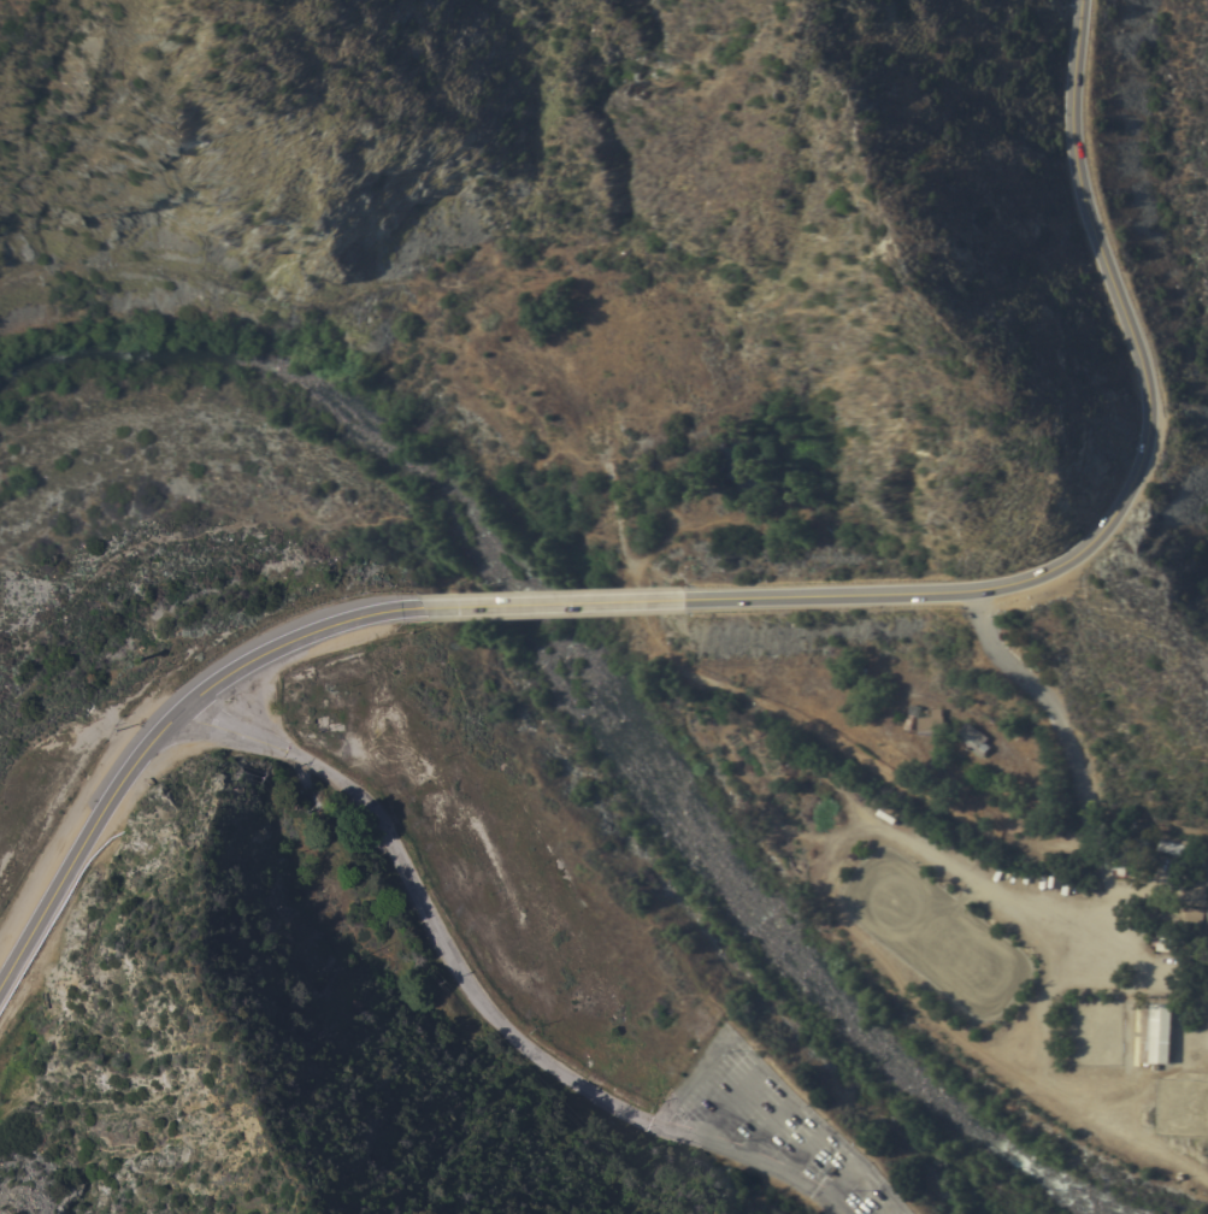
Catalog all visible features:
road: (1078, 177)
road: (1002, 585)
road: (555, 603)
river: (591, 688)
road: (785, 712)
building: (912, 717)
road: (1063, 721)
building: (932, 723)
road: (159, 731)
building: (973, 738)
building: (1175, 847)
building: (1142, 853)
building: (1121, 856)
road: (1160, 884)
road: (1112, 885)
building: (1192, 919)
building: (1168, 942)
road: (1150, 955)
road: (472, 994)
building: (1156, 1035)

